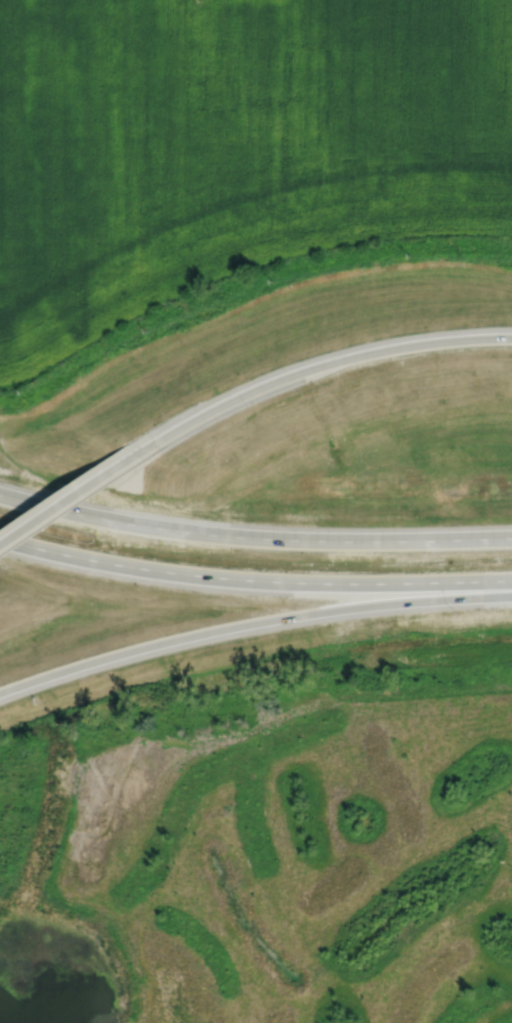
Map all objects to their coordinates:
crop: (231, 146)
road: (326, 364)
road: (77, 492)
road: (83, 515)
road: (340, 540)
road: (77, 556)
road: (333, 583)
road: (252, 625)

